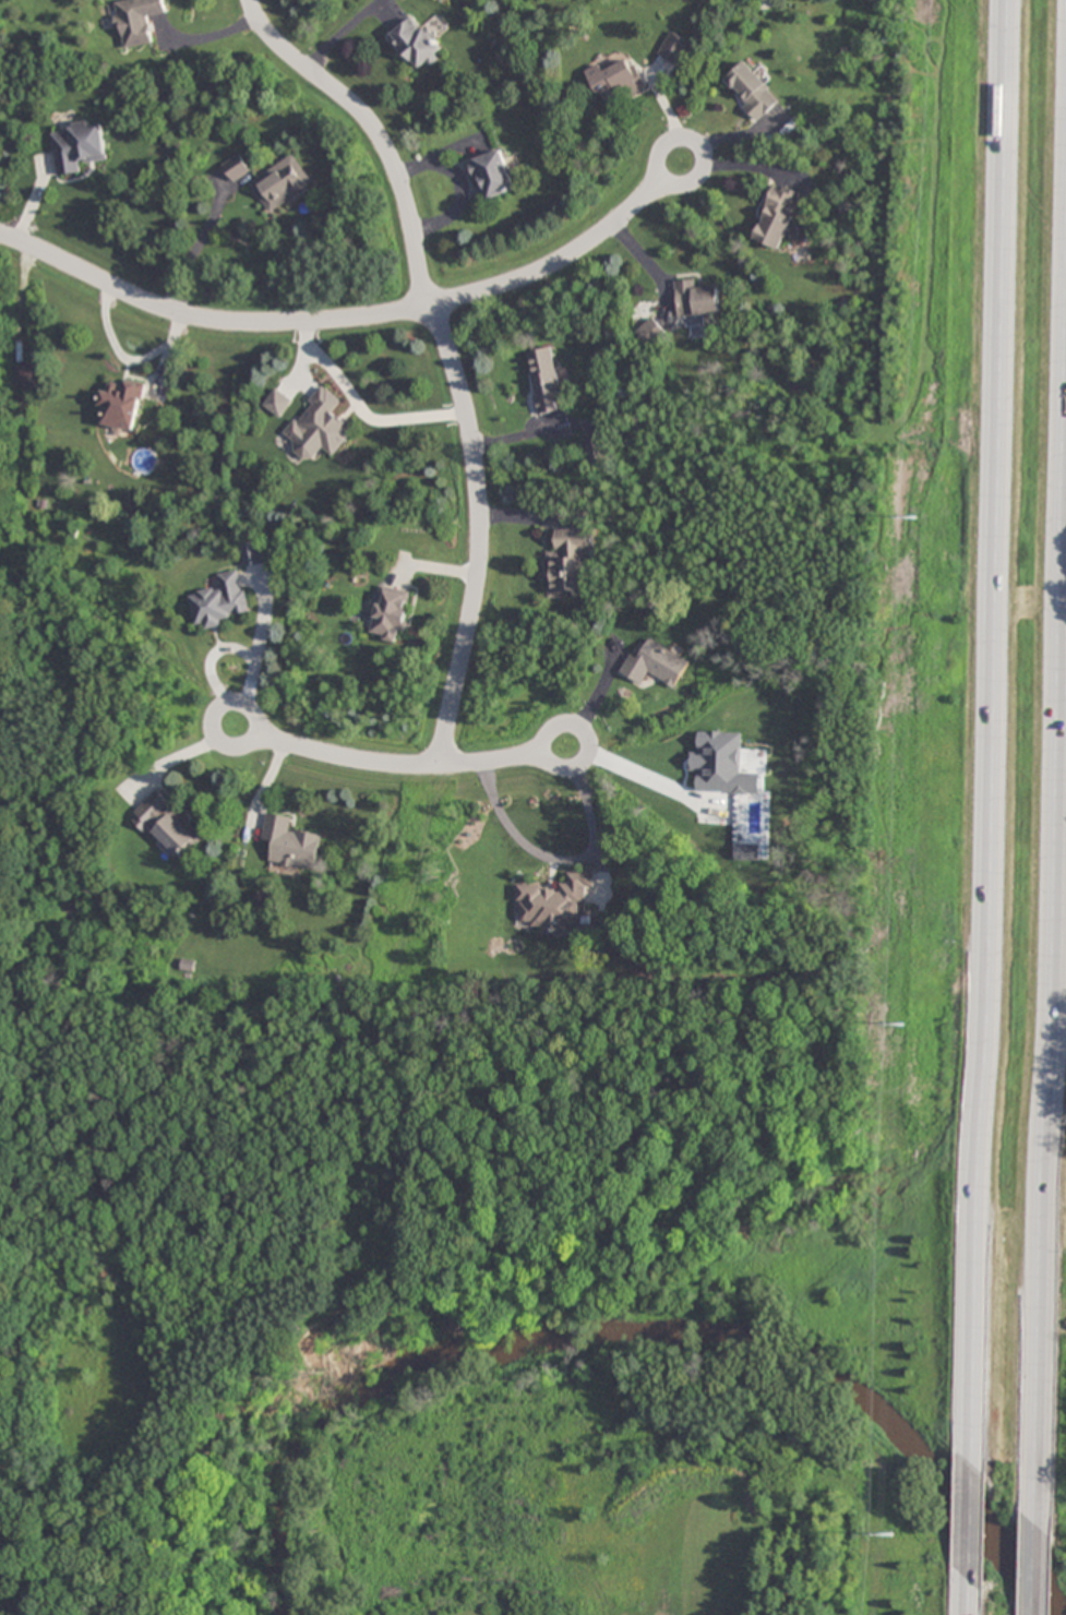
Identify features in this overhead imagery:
building: (136, 21)
building: (416, 45)
building: (673, 48)
building: (615, 80)
building: (751, 91)
road: (686, 140)
building: (79, 145)
building: (237, 169)
building: (493, 177)
building: (282, 183)
building: (777, 218)
road: (551, 264)
building: (696, 300)
road: (207, 321)
building: (650, 334)
road: (448, 351)
building: (28, 376)
building: (544, 380)
building: (277, 403)
building: (121, 407)
building: (324, 423)
building: (595, 451)
building: (253, 554)
building: (567, 565)
building: (220, 601)
building: (390, 614)
building: (656, 665)
road: (213, 727)
road: (991, 729)
road: (585, 733)
road: (351, 759)
road: (486, 763)
building: (167, 825)
building: (291, 844)
building: (555, 905)
road: (1056, 1126)
river: (630, 1324)
park: (11, 1340)
road: (970, 1519)
road: (1045, 1562)
road: (969, 1596)

